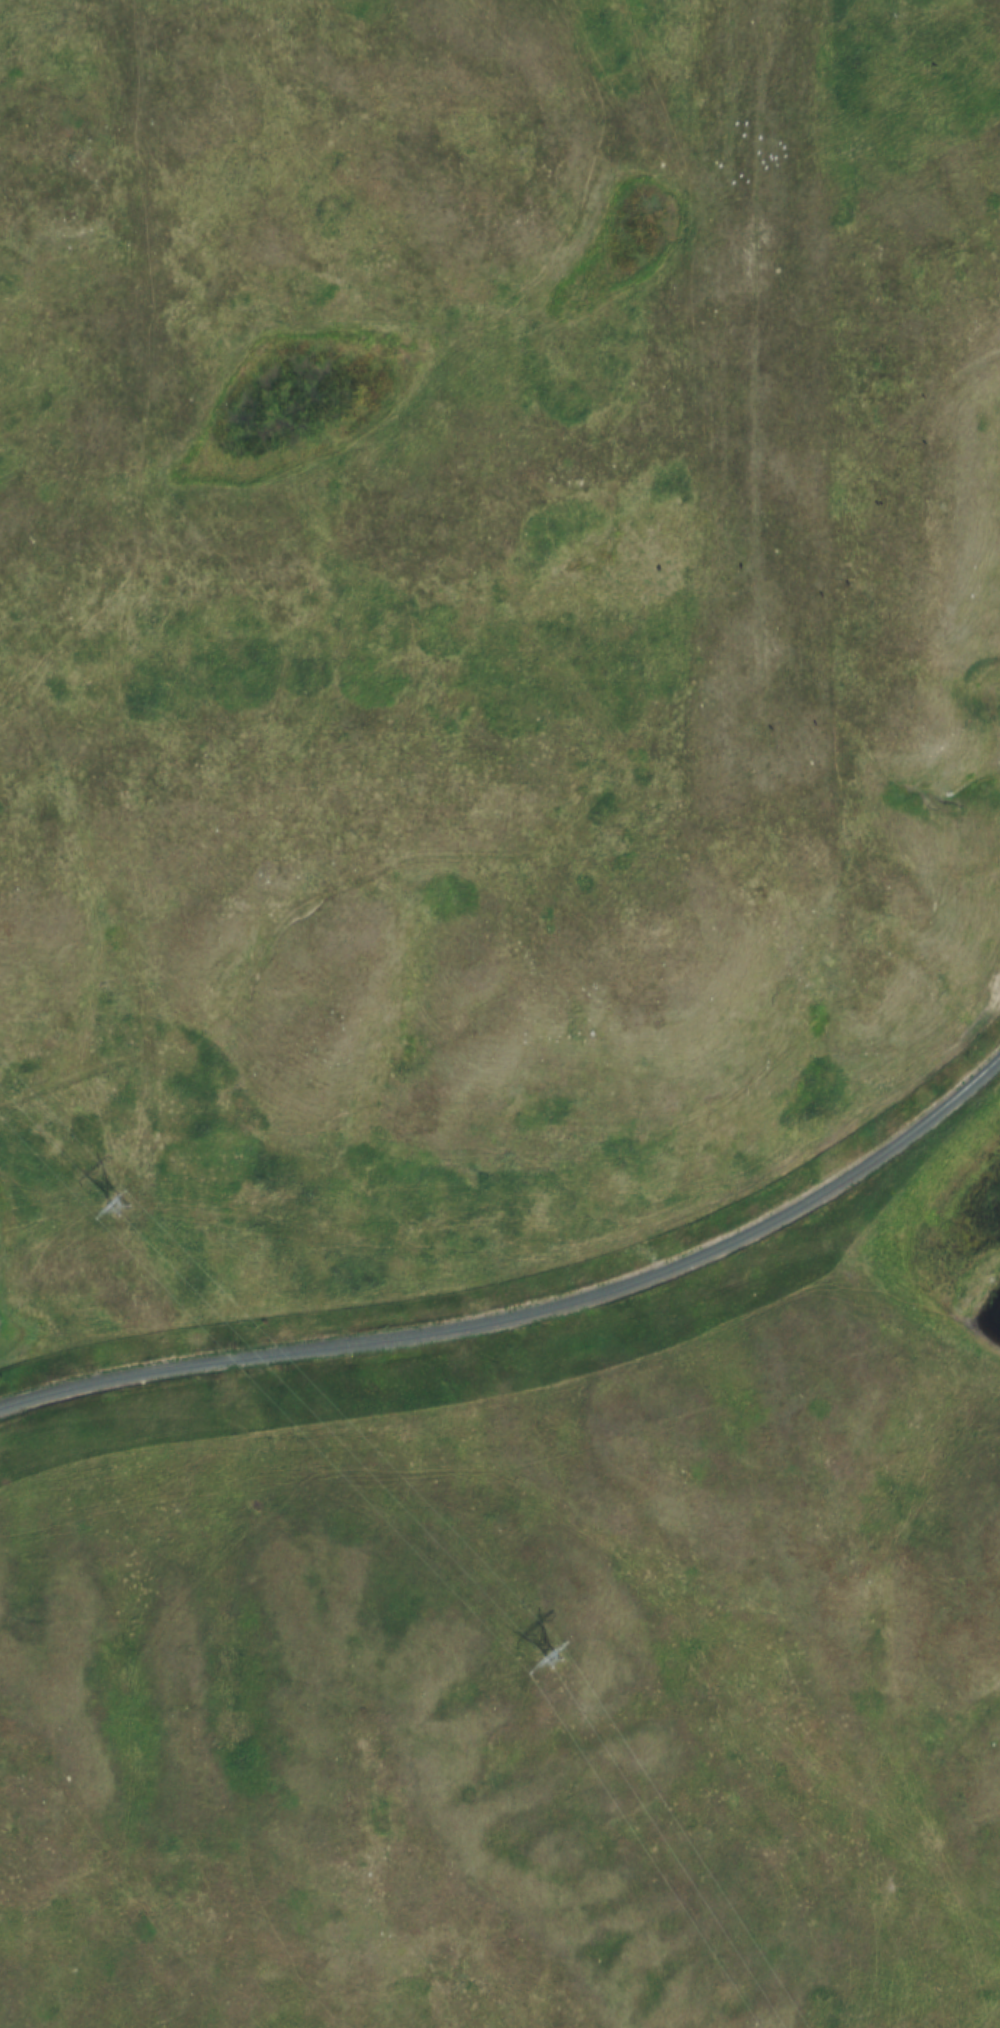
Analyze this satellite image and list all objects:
power tower: (114, 1210)
railway: (531, 1313)
power tower: (553, 1660)

